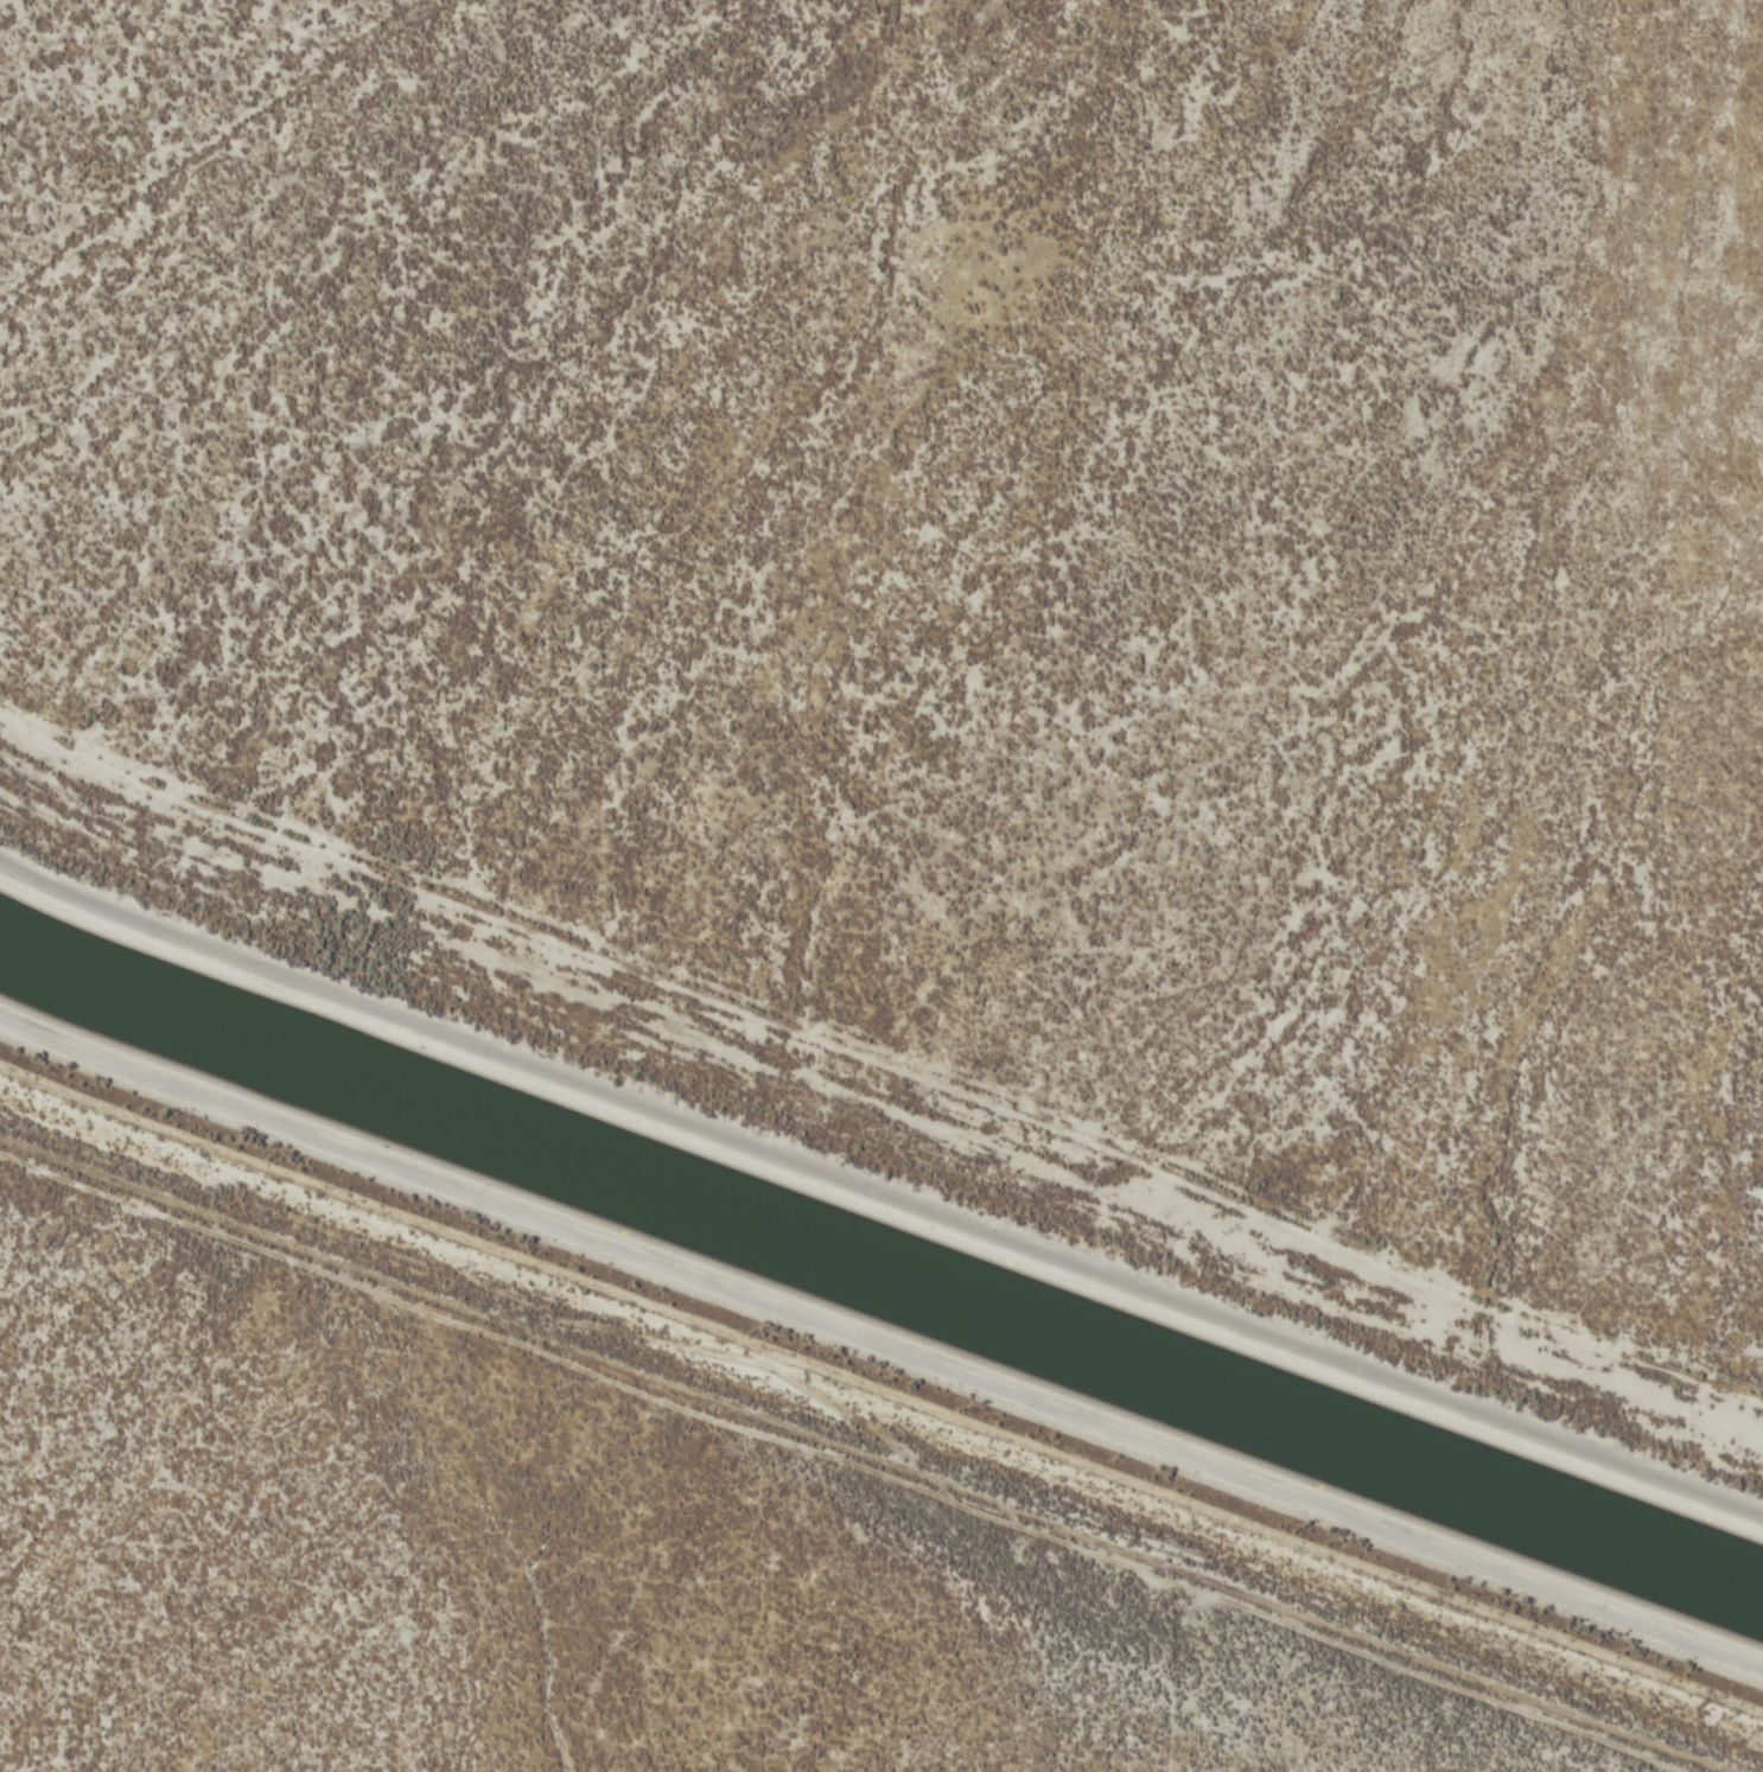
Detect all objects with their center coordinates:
crop: (985, 550)
road: (881, 1183)
road: (883, 1404)

